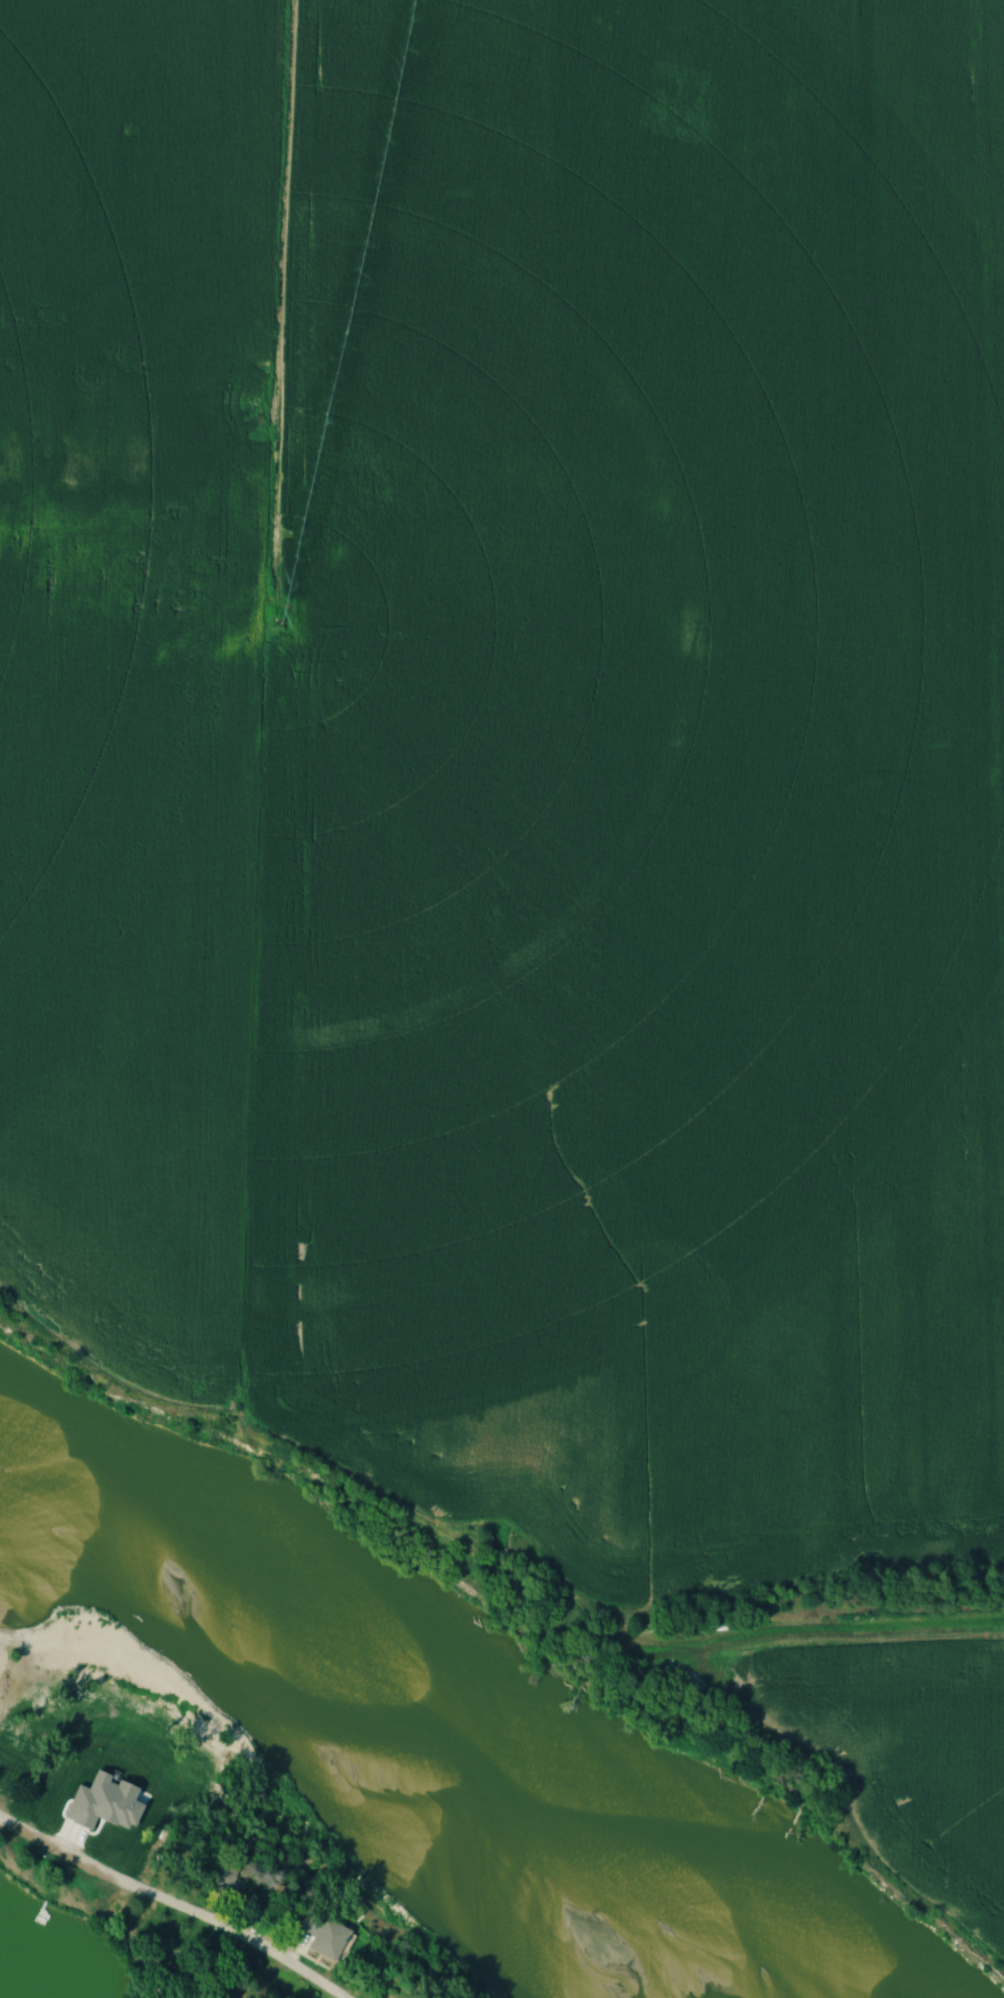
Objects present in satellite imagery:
river: (436, 1694)
building: (228, 1881)
road: (171, 1905)
building: (319, 1936)
building: (229, 1997)

